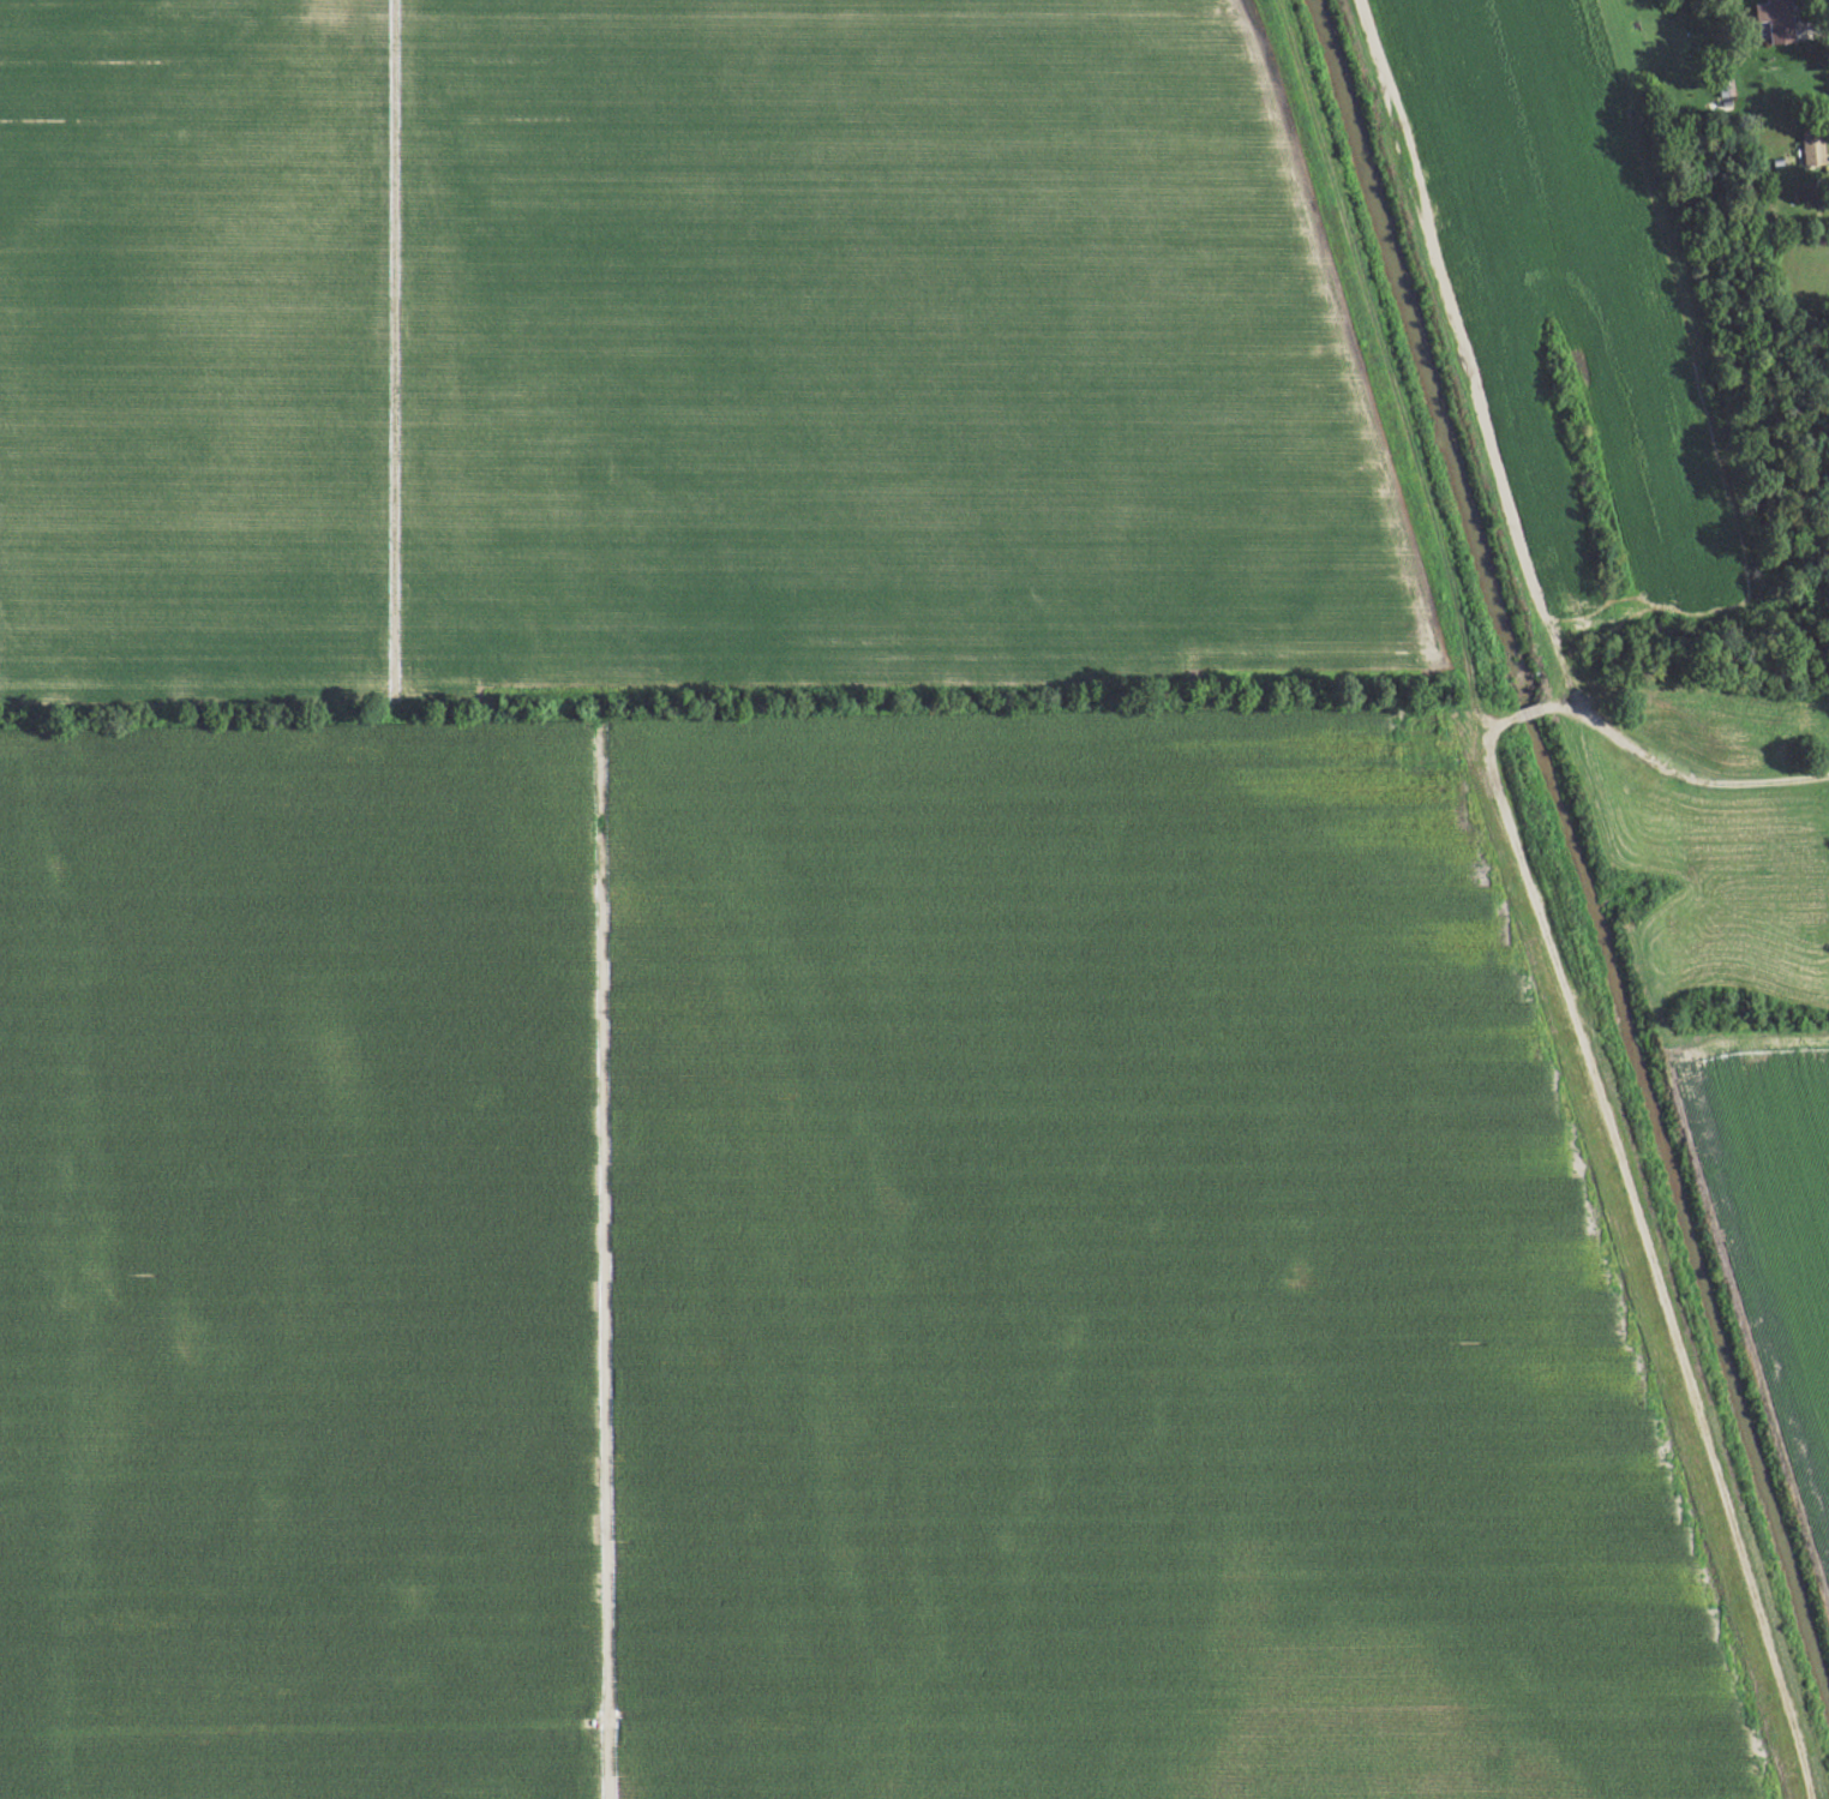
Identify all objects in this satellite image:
building: (1781, 20)
building: (1817, 149)
road: (1629, 745)

